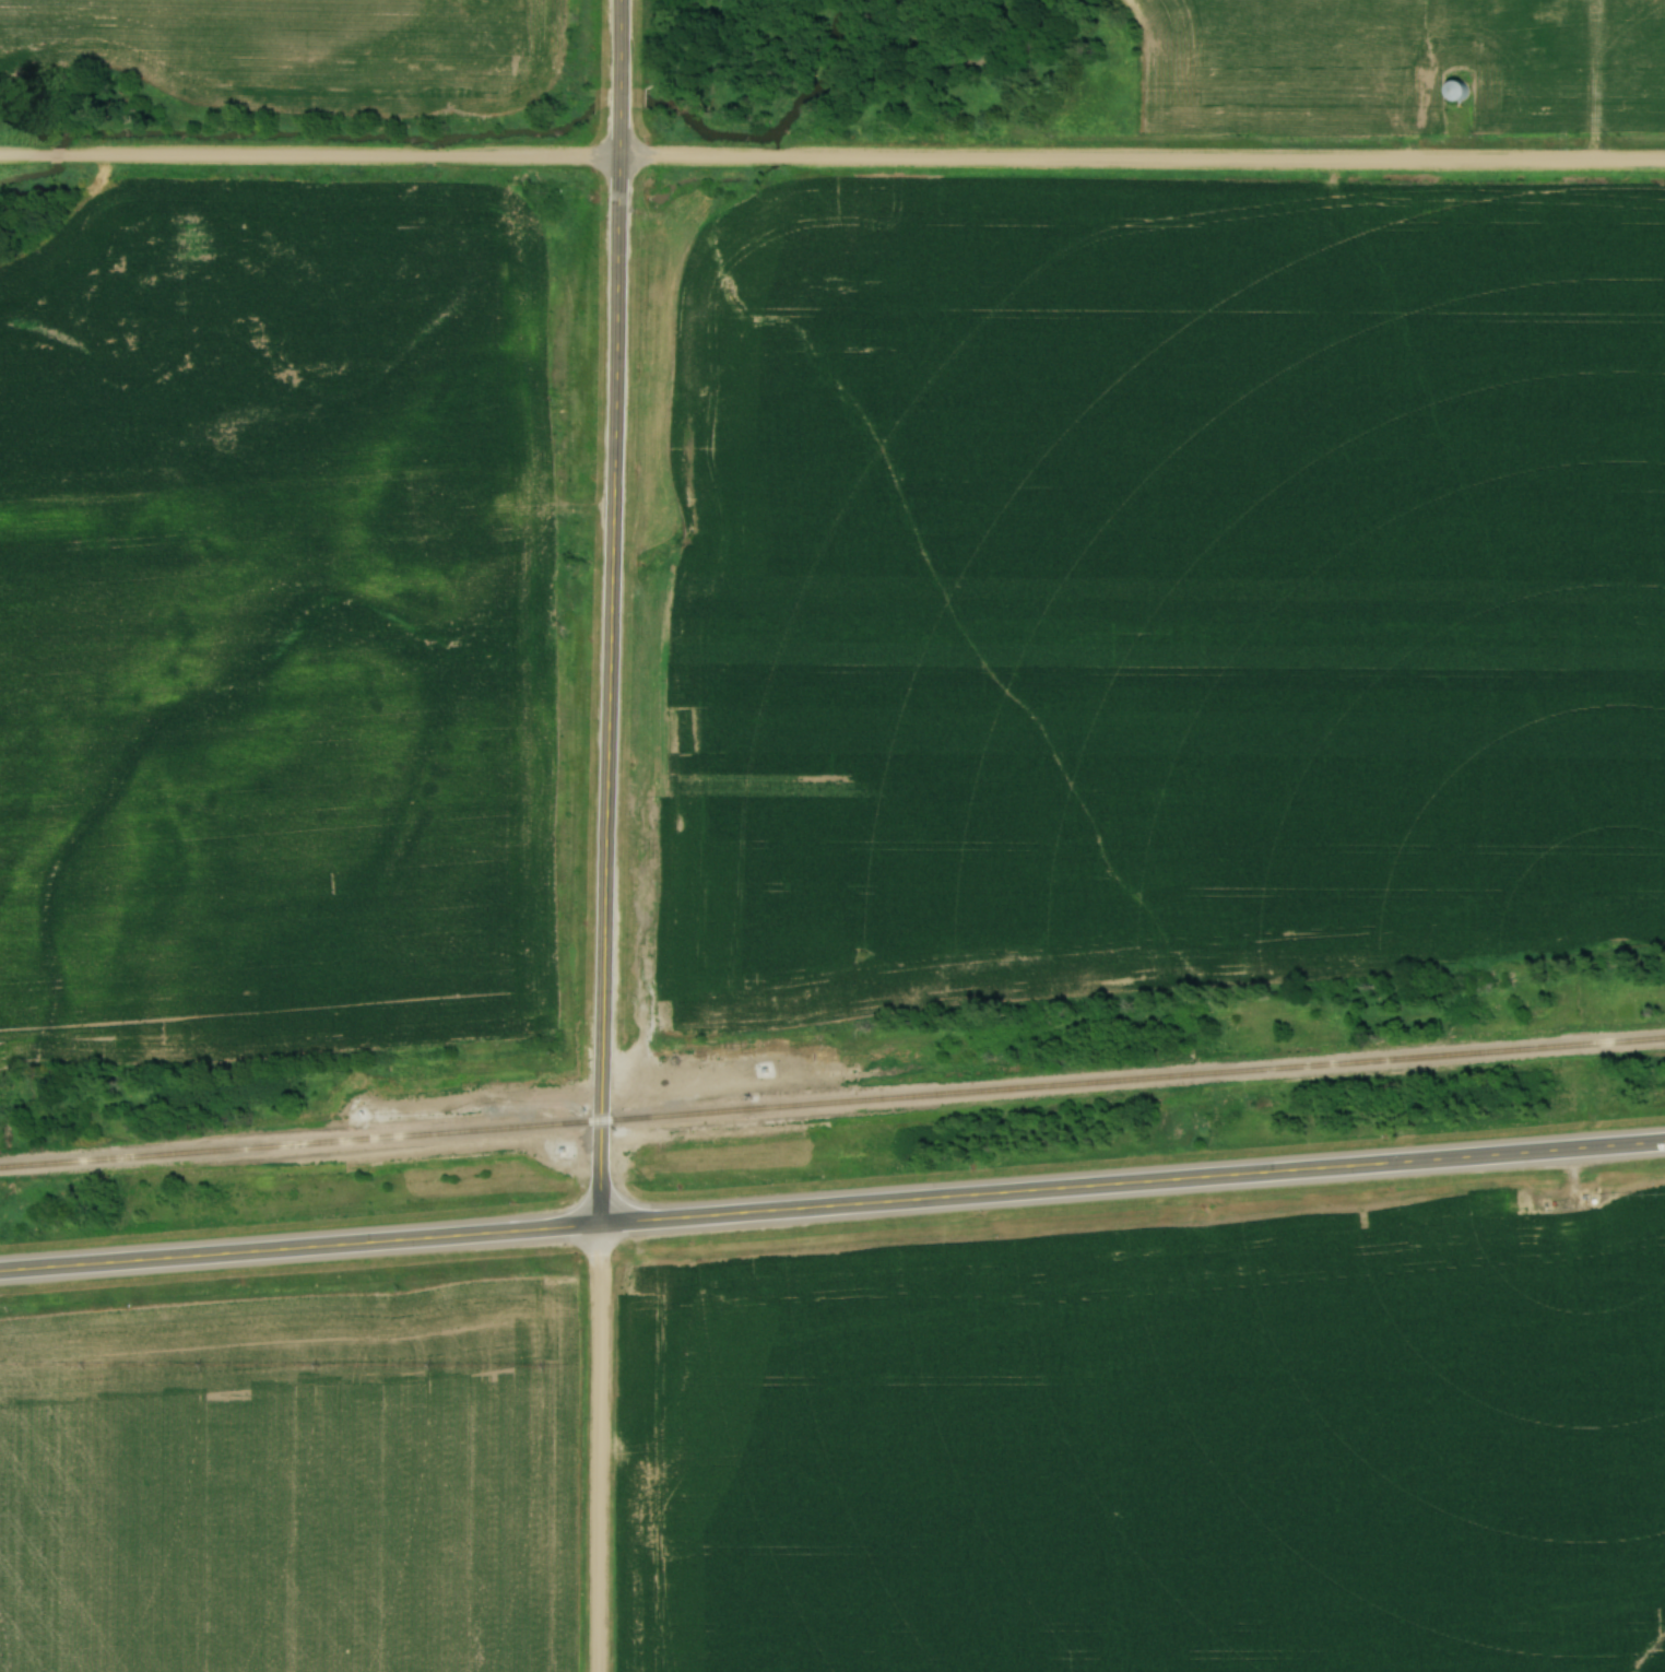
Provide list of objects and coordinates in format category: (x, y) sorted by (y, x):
building: (1537, 43)
road: (1599, 81)
building: (1457, 87)
road: (832, 157)
road: (615, 612)
railway: (831, 1118)
road: (831, 1204)
road: (599, 1447)

